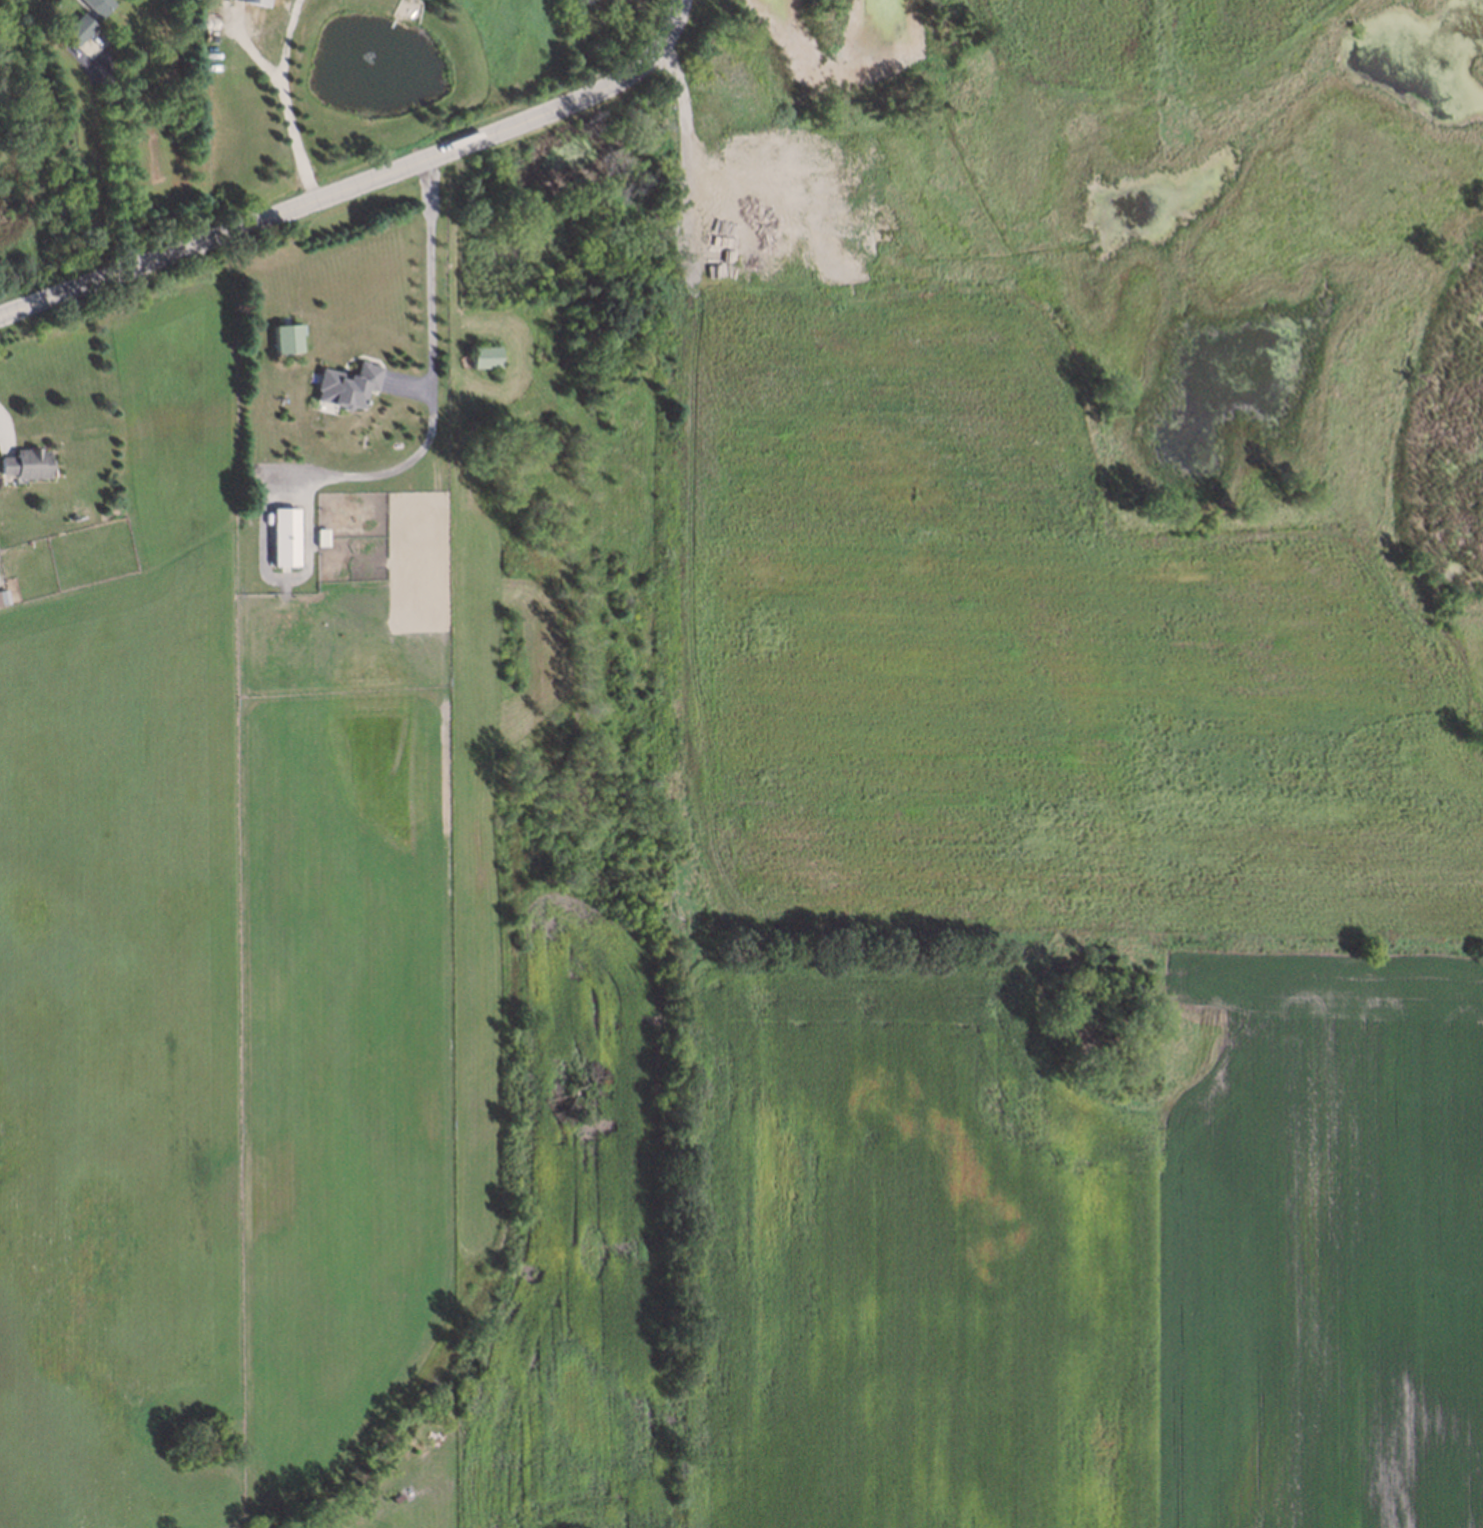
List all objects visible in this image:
building: (255, 1)
building: (90, 3)
building: (74, 25)
road: (670, 33)
road: (284, 113)
road: (108, 168)
road: (326, 194)
road: (425, 277)
building: (288, 339)
building: (486, 357)
building: (340, 384)
building: (22, 461)
building: (1, 594)

